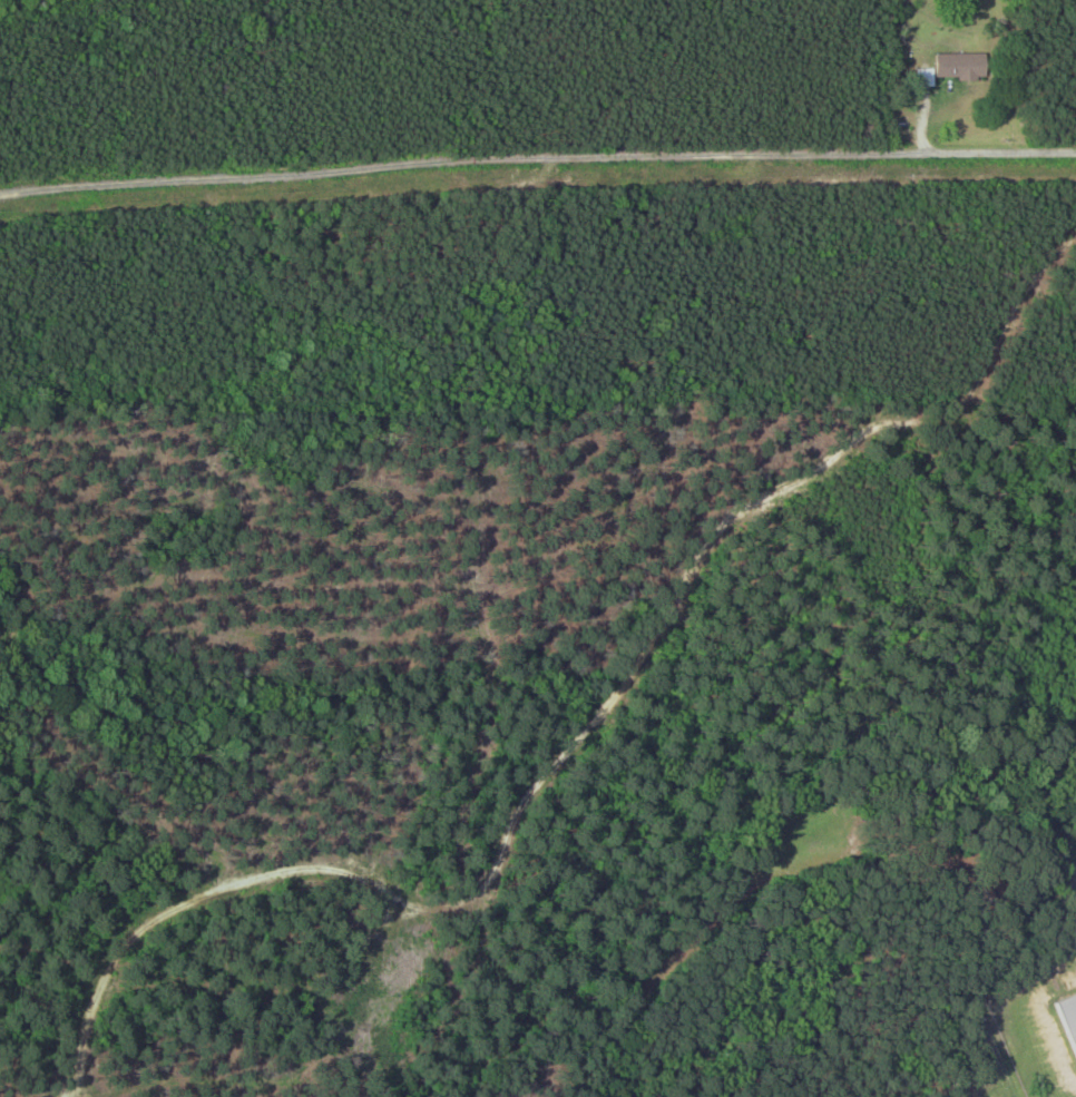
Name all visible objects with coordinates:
building: (956, 66)
road: (537, 159)
building: (1065, 1018)

